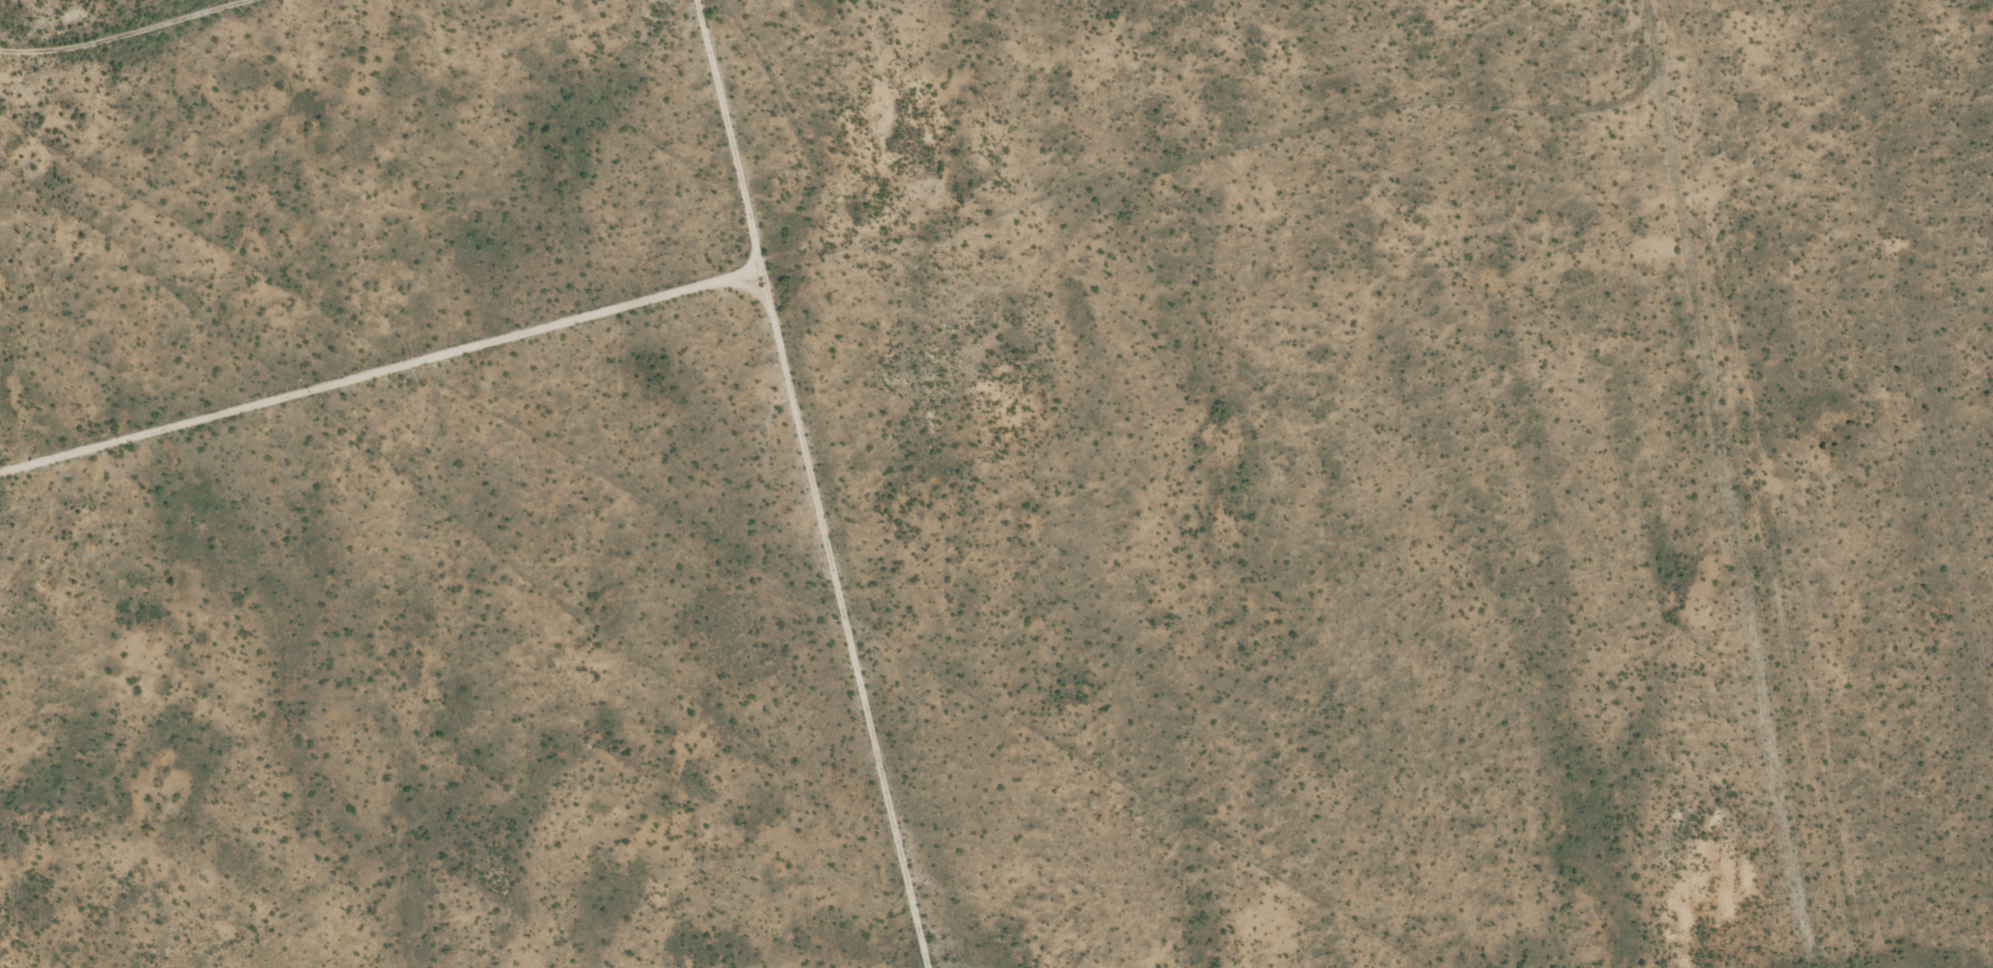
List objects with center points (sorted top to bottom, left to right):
river: (311, 485)

